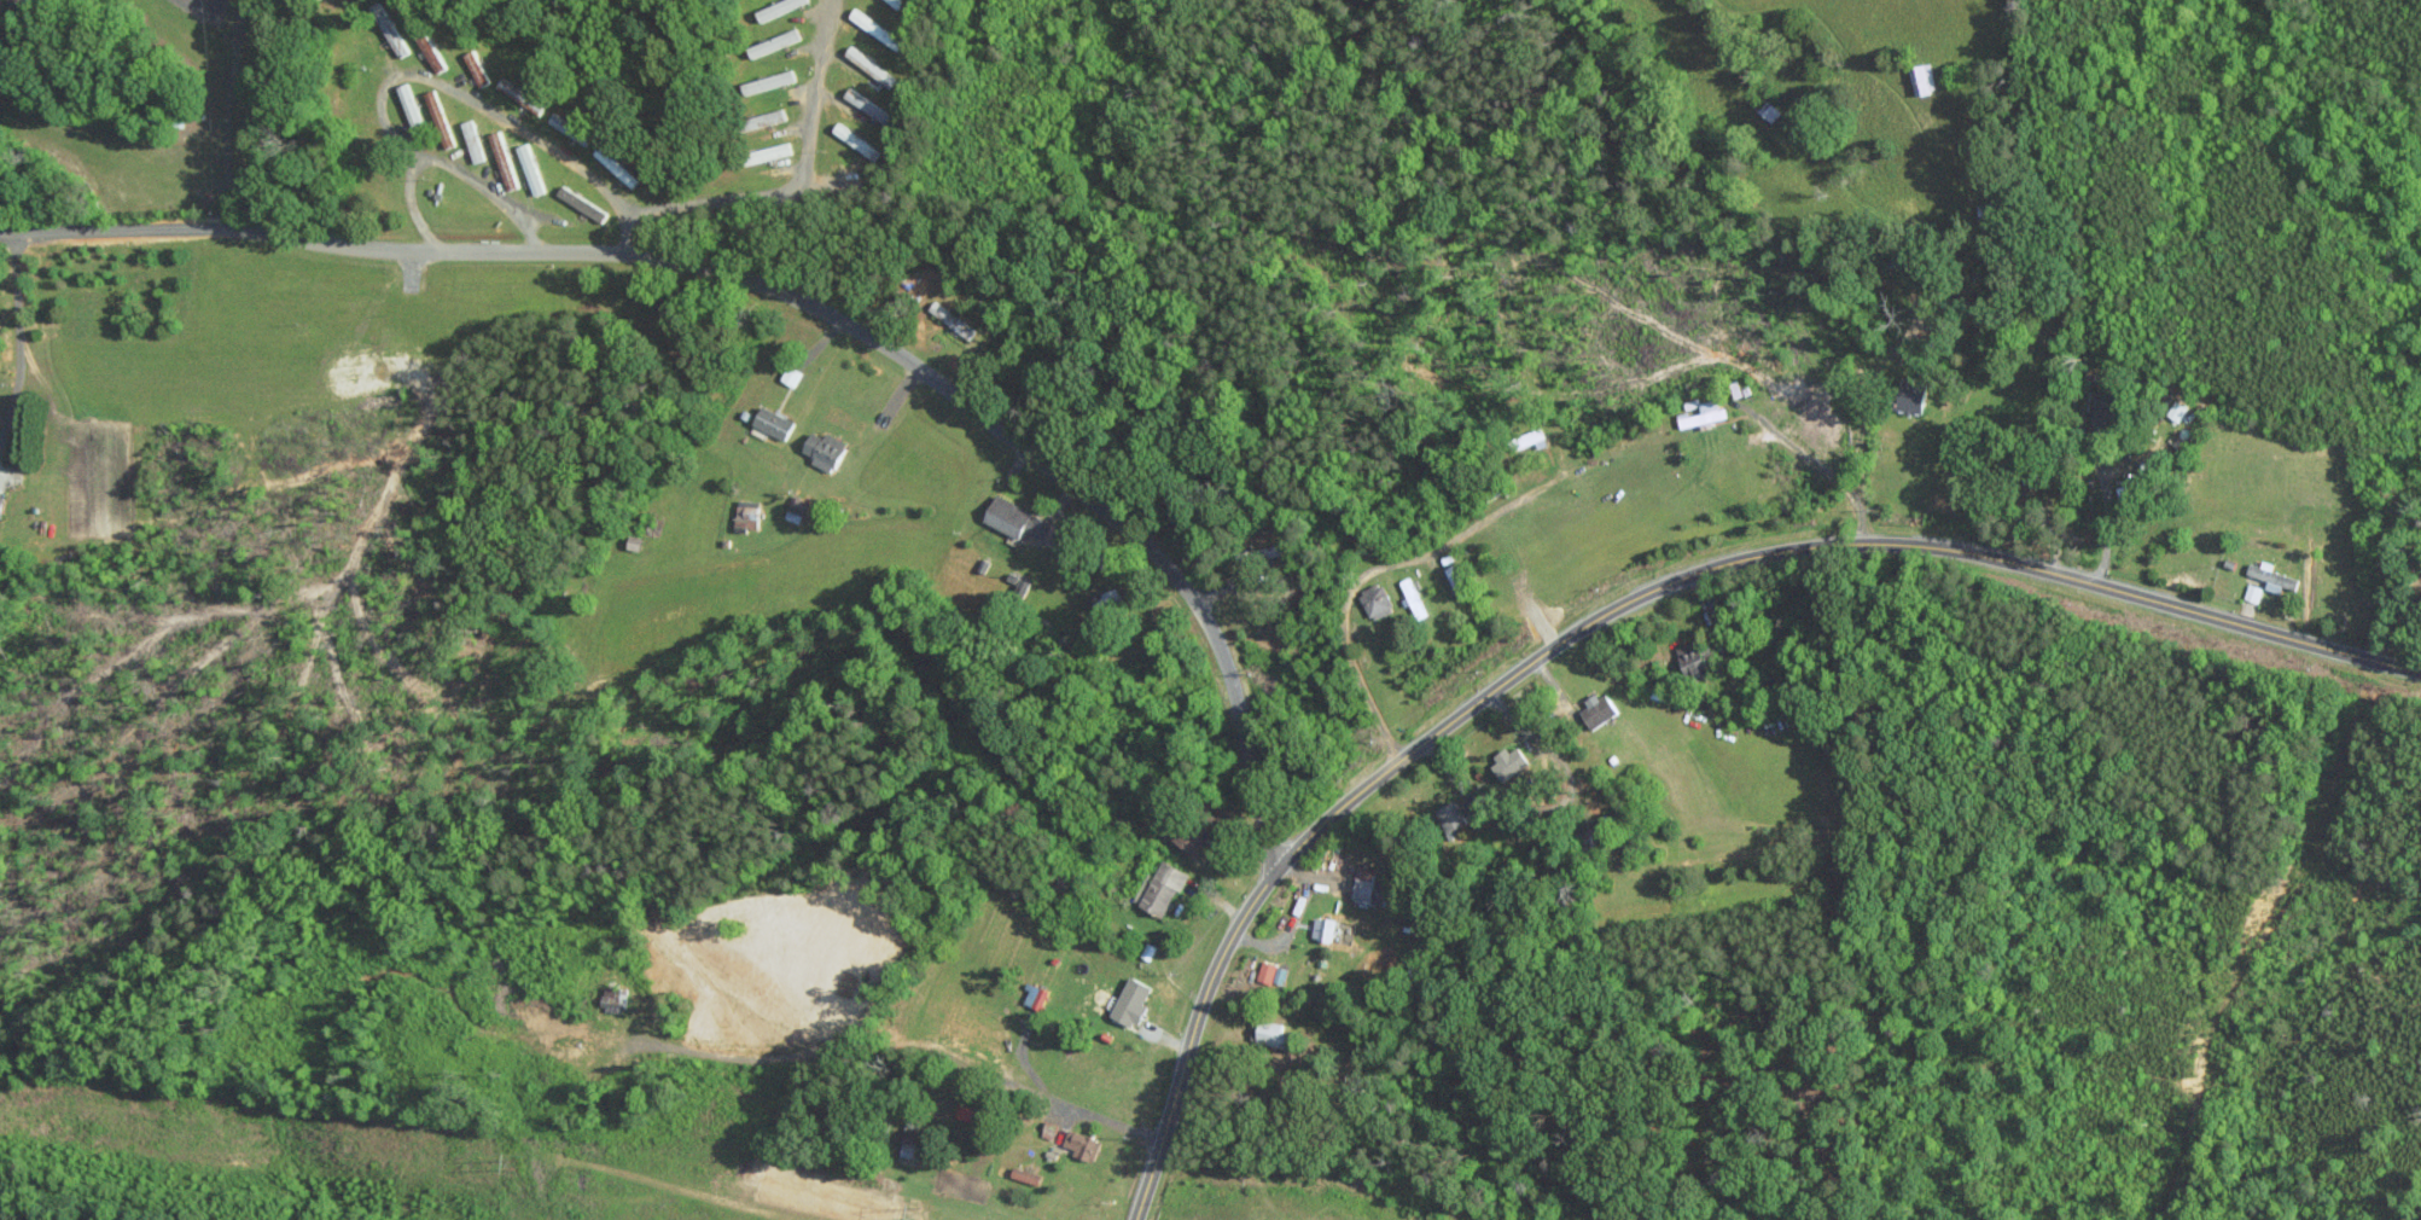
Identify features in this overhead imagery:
building: (862, 62)
building: (477, 68)
road: (417, 74)
building: (1924, 79)
building: (867, 105)
road: (250, 110)
building: (477, 150)
building: (505, 161)
building: (531, 169)
road: (791, 185)
building: (583, 204)
road: (797, 294)
road: (19, 339)
building: (1911, 394)
building: (2103, 412)
building: (1704, 413)
building: (774, 420)
building: (826, 448)
road: (1866, 463)
building: (1, 504)
building: (796, 507)
building: (747, 513)
building: (1019, 518)
road: (2106, 522)
building: (2274, 576)
building: (1409, 592)
building: (1108, 598)
building: (1377, 600)
road: (1626, 603)
building: (1690, 657)
building: (1599, 709)
building: (1511, 761)
building: (1459, 811)
building: (1198, 830)
building: (1370, 885)
building: (1163, 887)
building: (1322, 928)
building: (1270, 972)
building: (1131, 1000)
building: (1269, 1033)
road: (895, 1045)
building: (908, 1137)
building: (1079, 1144)
power tower: (516, 1163)
building: (1025, 1175)
power tower: (919, 1212)

